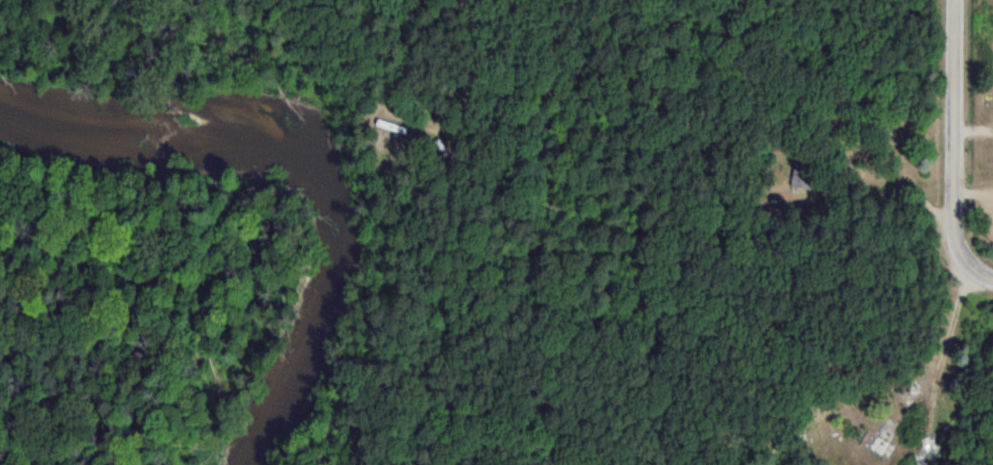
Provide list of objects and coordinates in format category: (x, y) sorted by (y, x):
river: (15, 105)
road: (959, 145)
river: (319, 170)
building: (798, 179)

